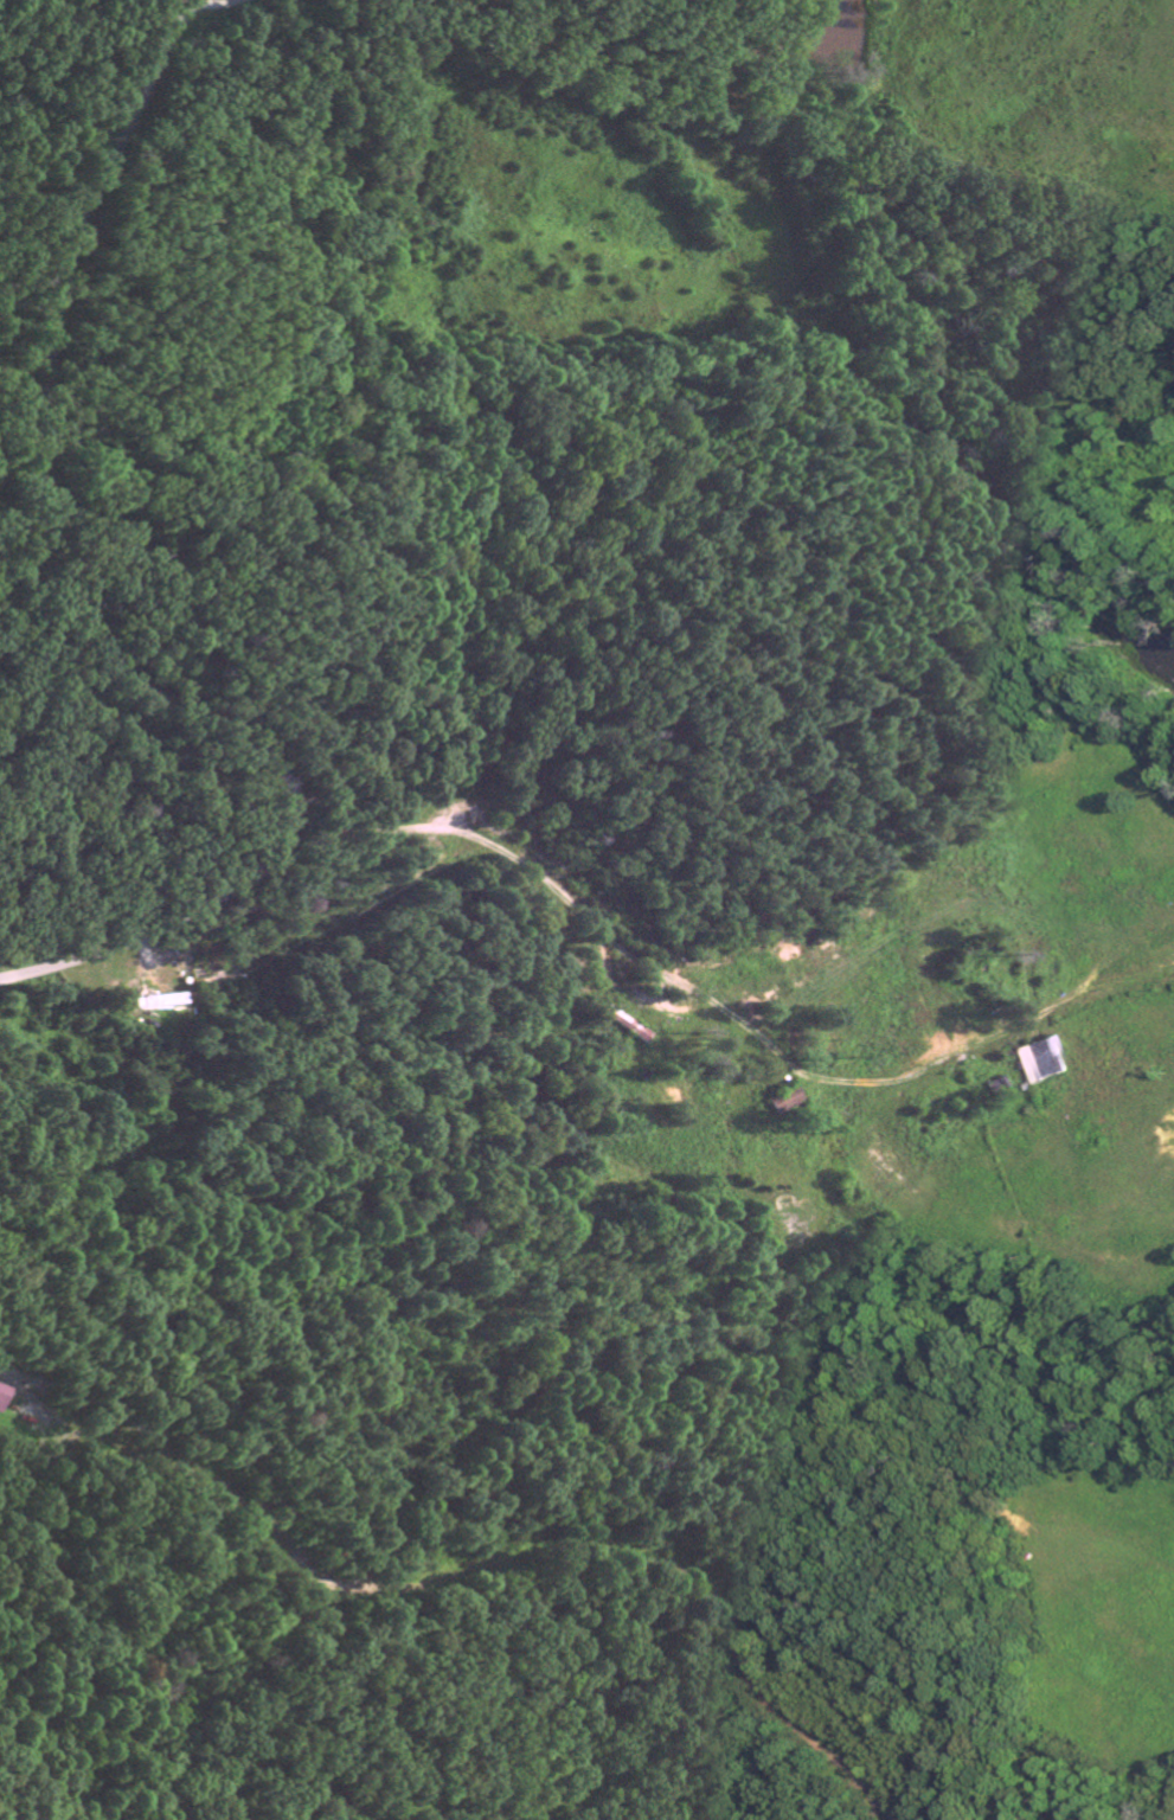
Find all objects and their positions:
road: (223, 7)
road: (77, 614)
road: (639, 960)
building: (1044, 1064)
building: (2, 1397)
road: (477, 1598)

